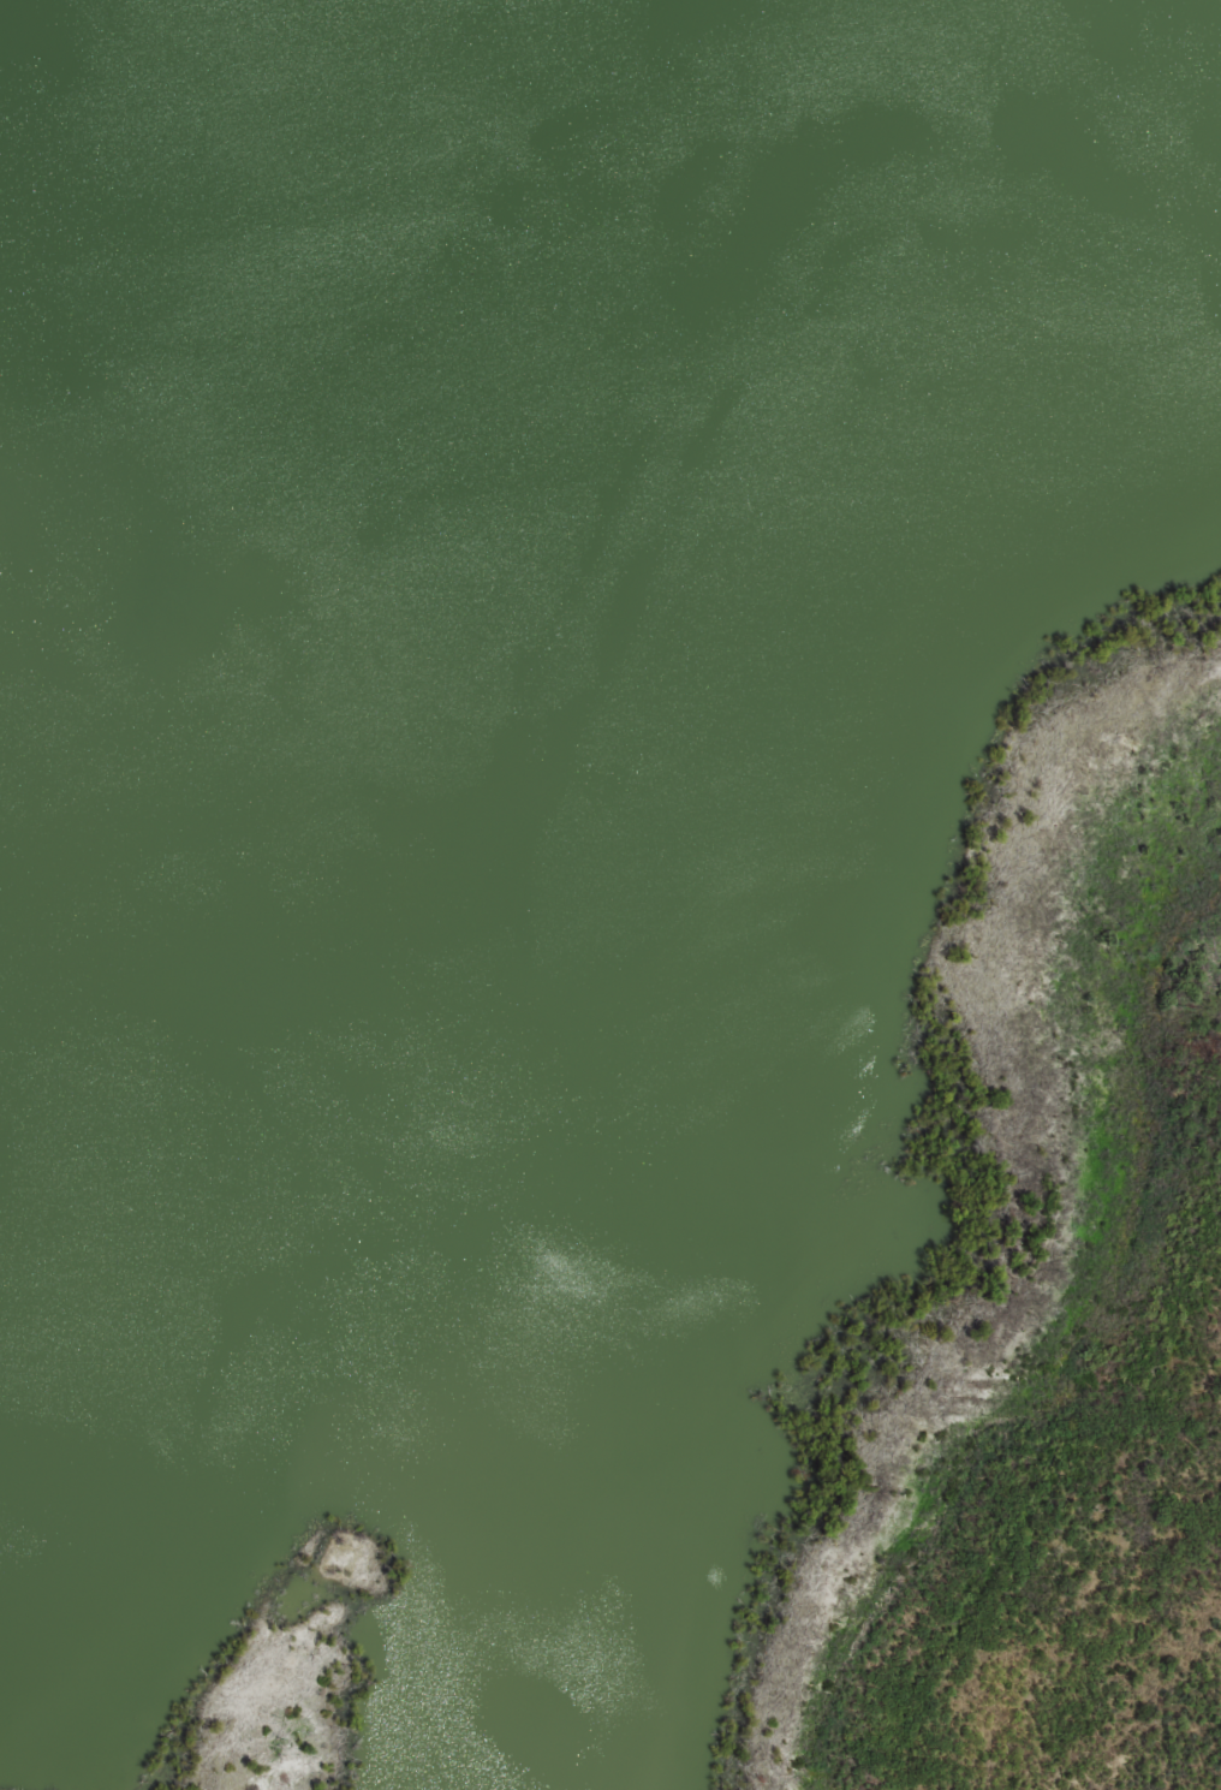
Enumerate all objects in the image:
river: (604, 357)

